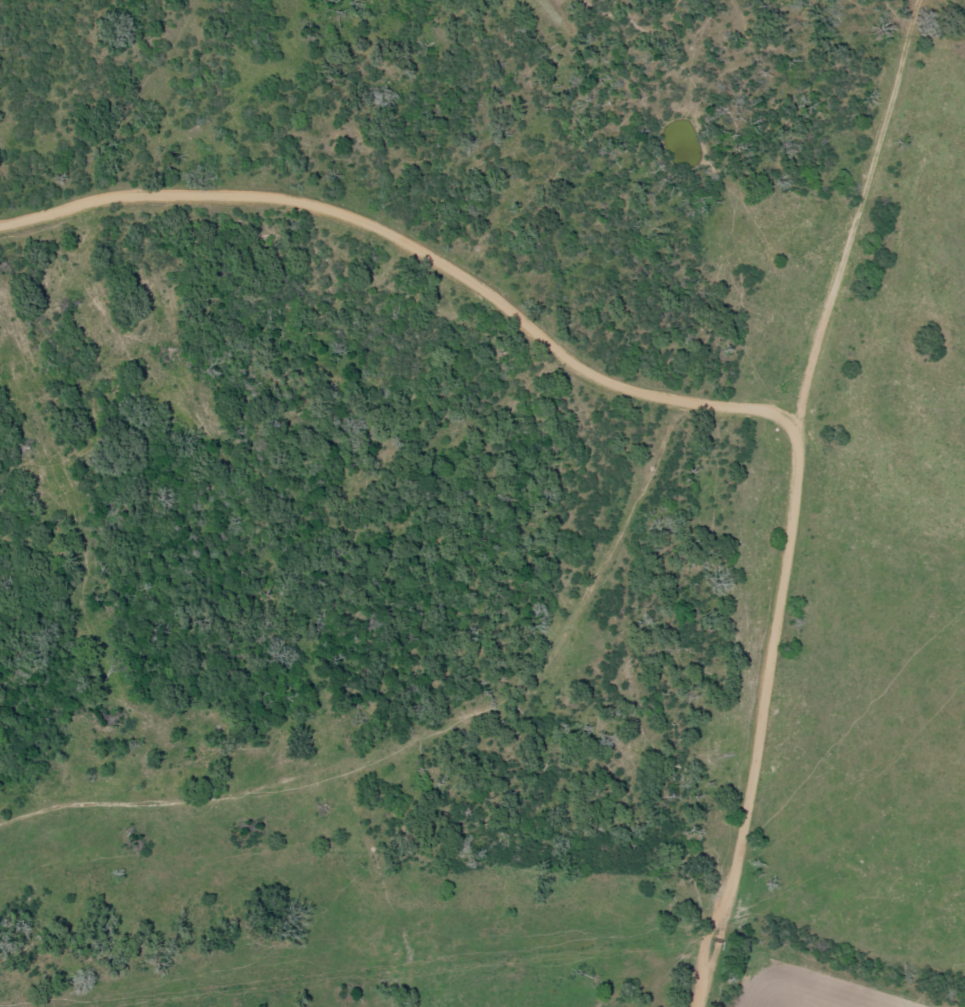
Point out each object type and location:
road: (124, 96)
road: (354, 224)
road: (730, 428)
road: (791, 499)
road: (400, 721)

